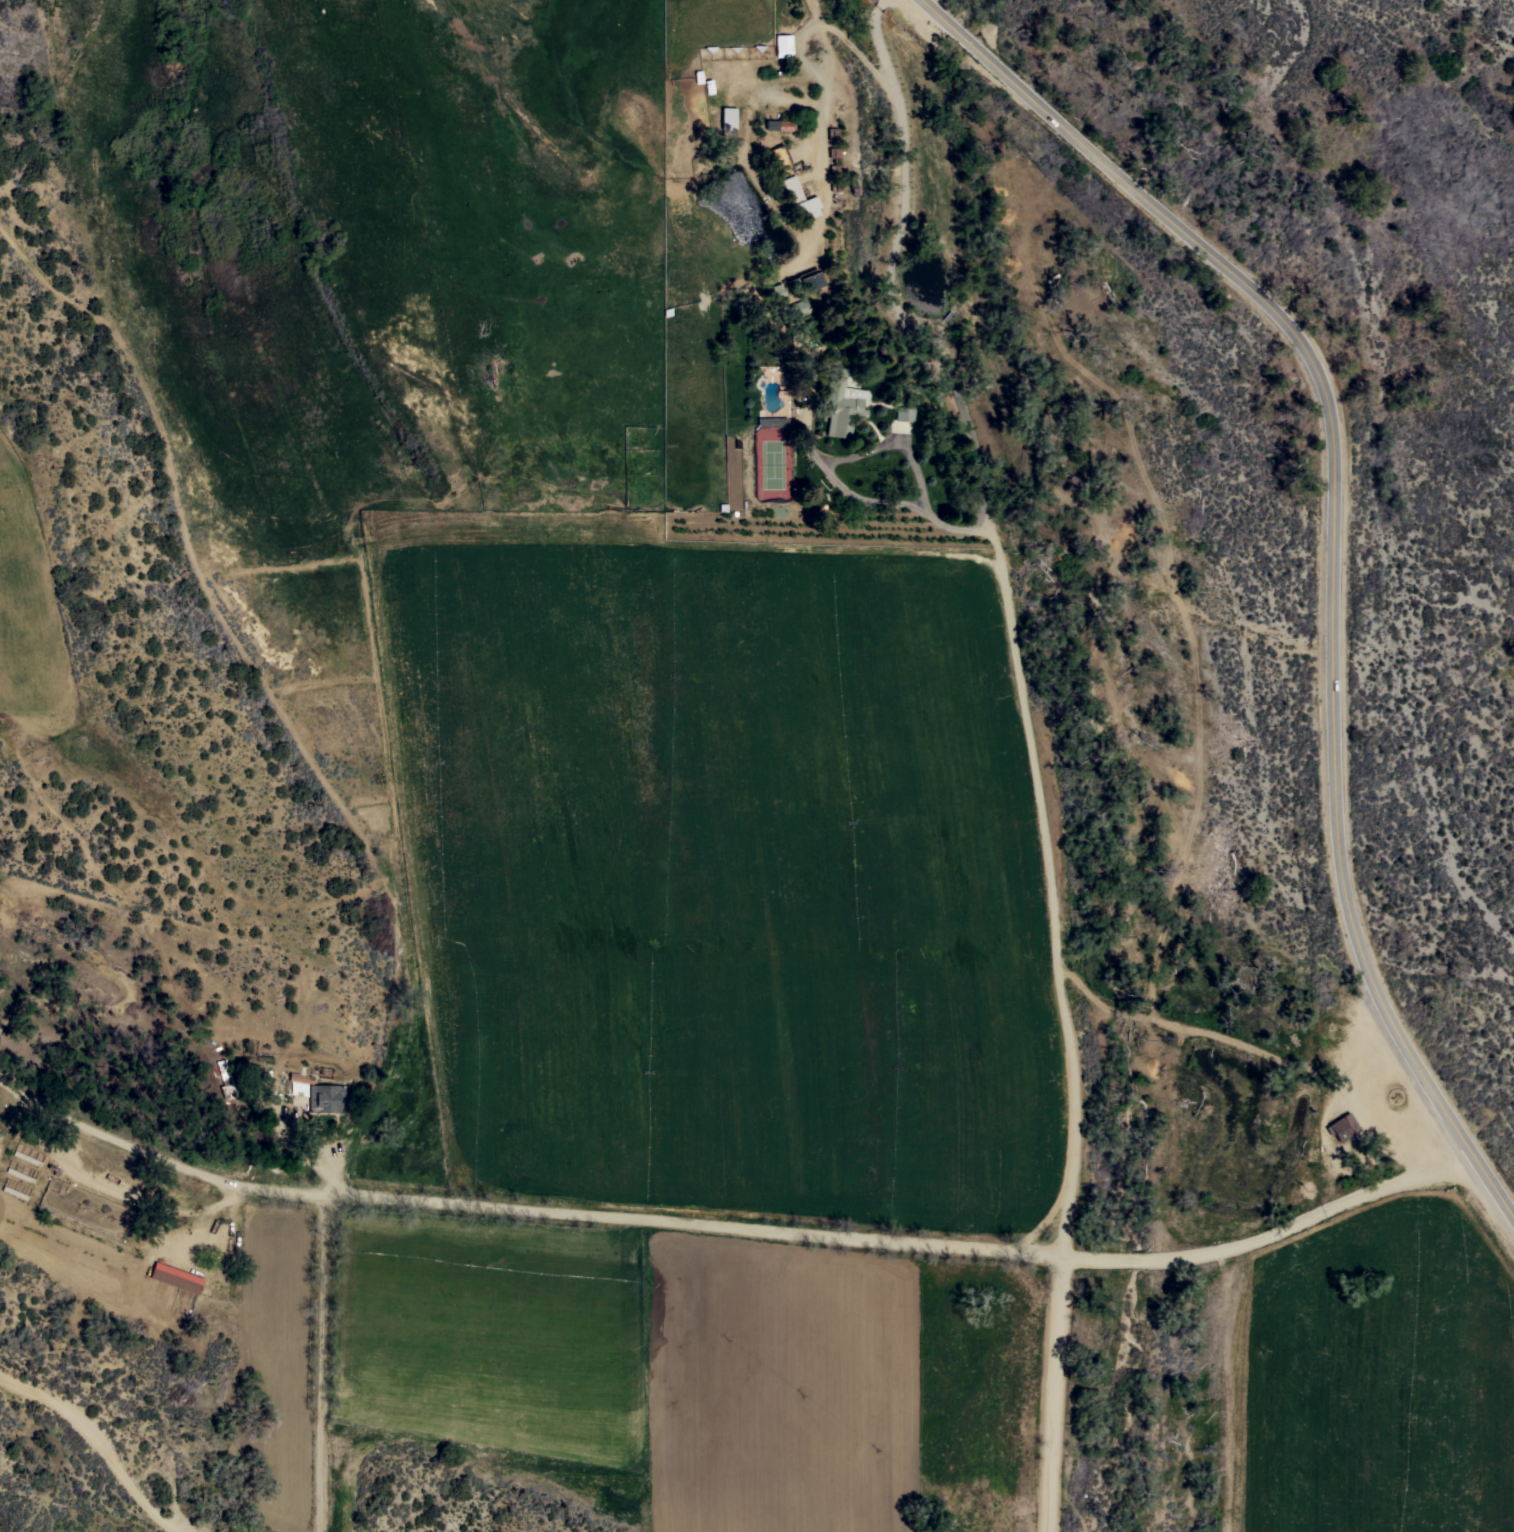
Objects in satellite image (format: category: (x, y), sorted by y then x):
building: (783, 45)
building: (728, 118)
building: (779, 125)
building: (831, 133)
building: (778, 159)
building: (832, 178)
building: (798, 198)
building: (803, 282)
building: (776, 290)
building: (792, 309)
building: (841, 404)
building: (901, 413)
building: (772, 421)
road: (1333, 543)
road: (1007, 618)
crop: (47, 625)
building: (387, 938)
crop: (716, 1035)
building: (224, 1079)
building: (260, 1082)
building: (299, 1083)
building: (326, 1097)
road: (1372, 1108)
building: (1342, 1126)
road: (1422, 1149)
building: (26, 1157)
building: (20, 1174)
building: (14, 1192)
road: (735, 1226)
building: (177, 1277)
crop: (1376, 1379)
road: (1044, 1394)

